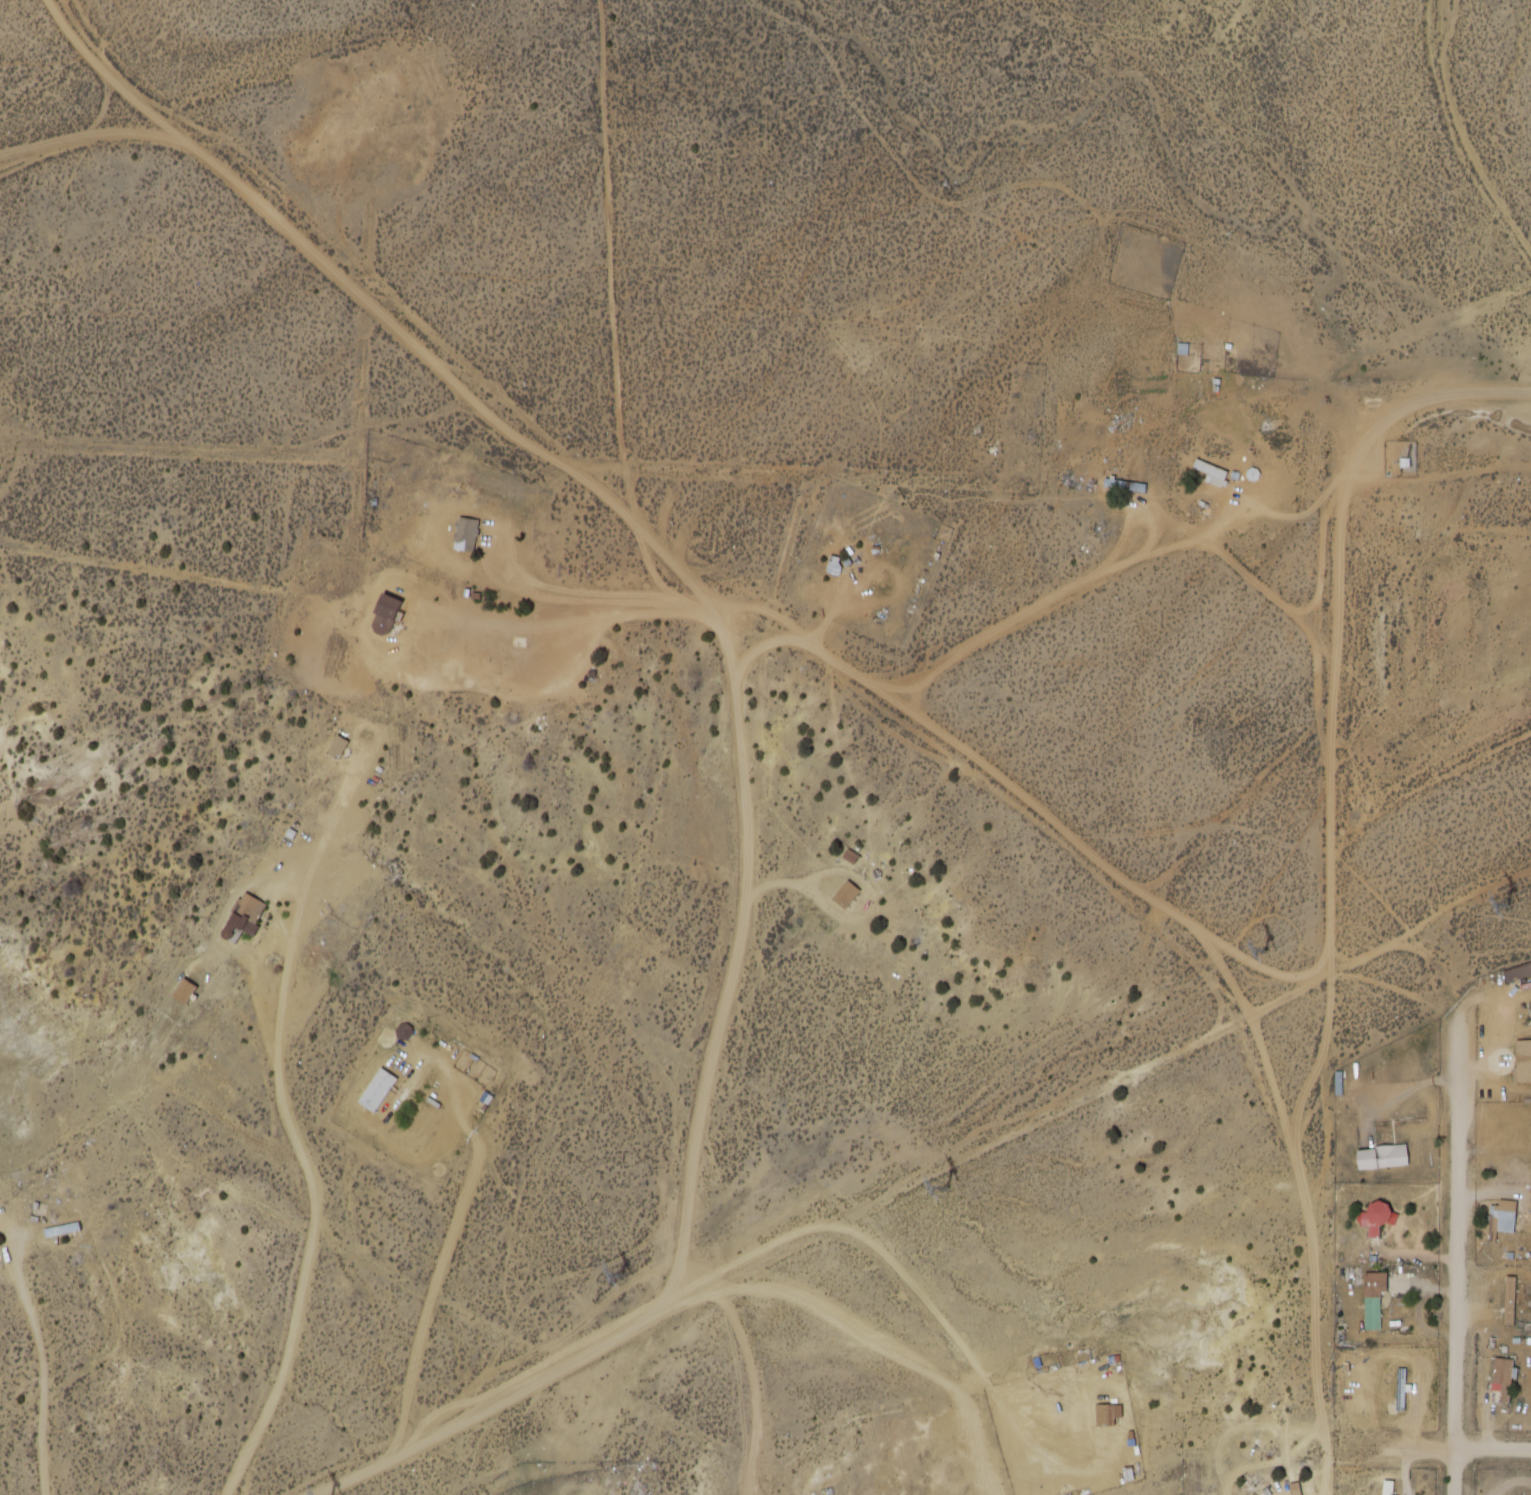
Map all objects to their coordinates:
road: (61, 2)
road: (1454, 136)
road: (2, 197)
road: (294, 213)
road: (1081, 369)
road: (1408, 415)
road: (585, 460)
building: (465, 535)
building: (832, 568)
road: (820, 660)
building: (337, 746)
road: (1336, 751)
building: (845, 893)
power tower: (1507, 903)
building: (245, 913)
power tower: (1261, 948)
road: (1261, 967)
building: (1518, 971)
building: (184, 990)
building: (1523, 1060)
building: (376, 1090)
road: (1311, 1098)
building: (1382, 1156)
road: (922, 1178)
power tower: (939, 1187)
building: (1377, 1215)
building: (1502, 1219)
road: (1330, 1237)
road: (1462, 1262)
power tower: (619, 1274)
building: (1373, 1298)
road: (6, 1302)
road: (1399, 1359)
building: (1502, 1378)
road: (754, 1380)
building: (1392, 1390)
building: (1107, 1414)
road: (26, 1436)
road: (1459, 1453)

